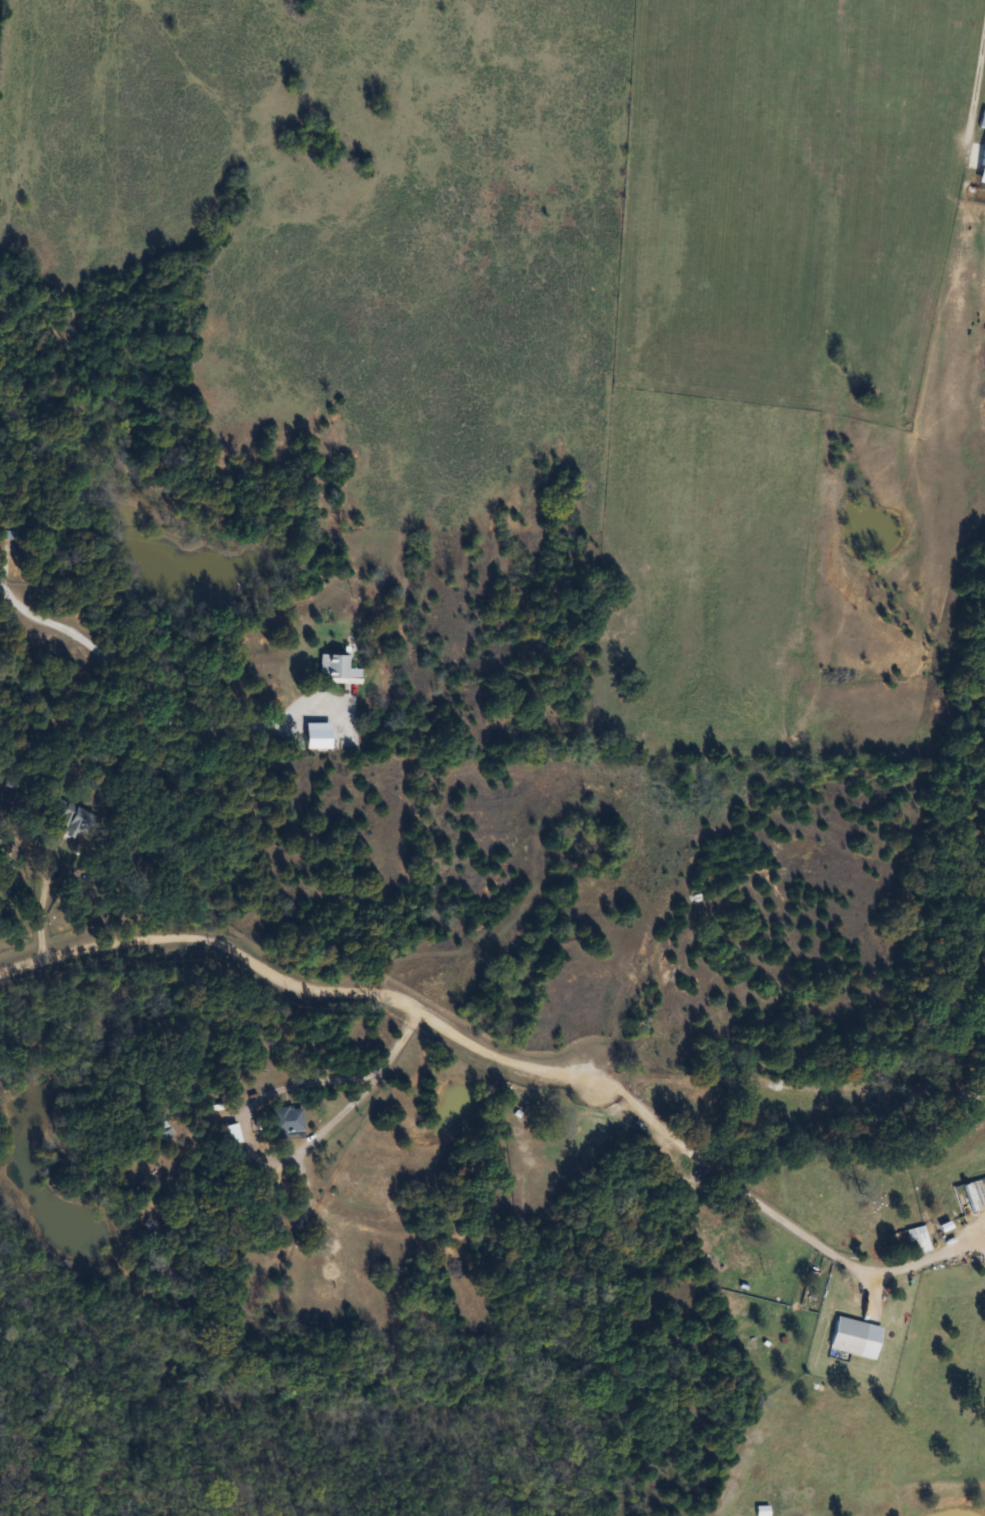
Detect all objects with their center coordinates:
road: (980, 96)
road: (47, 620)
building: (337, 670)
building: (69, 821)
road: (295, 988)
road: (786, 1083)
building: (286, 1123)
building: (231, 1135)
road: (281, 1153)
building: (916, 1238)
building: (855, 1338)

